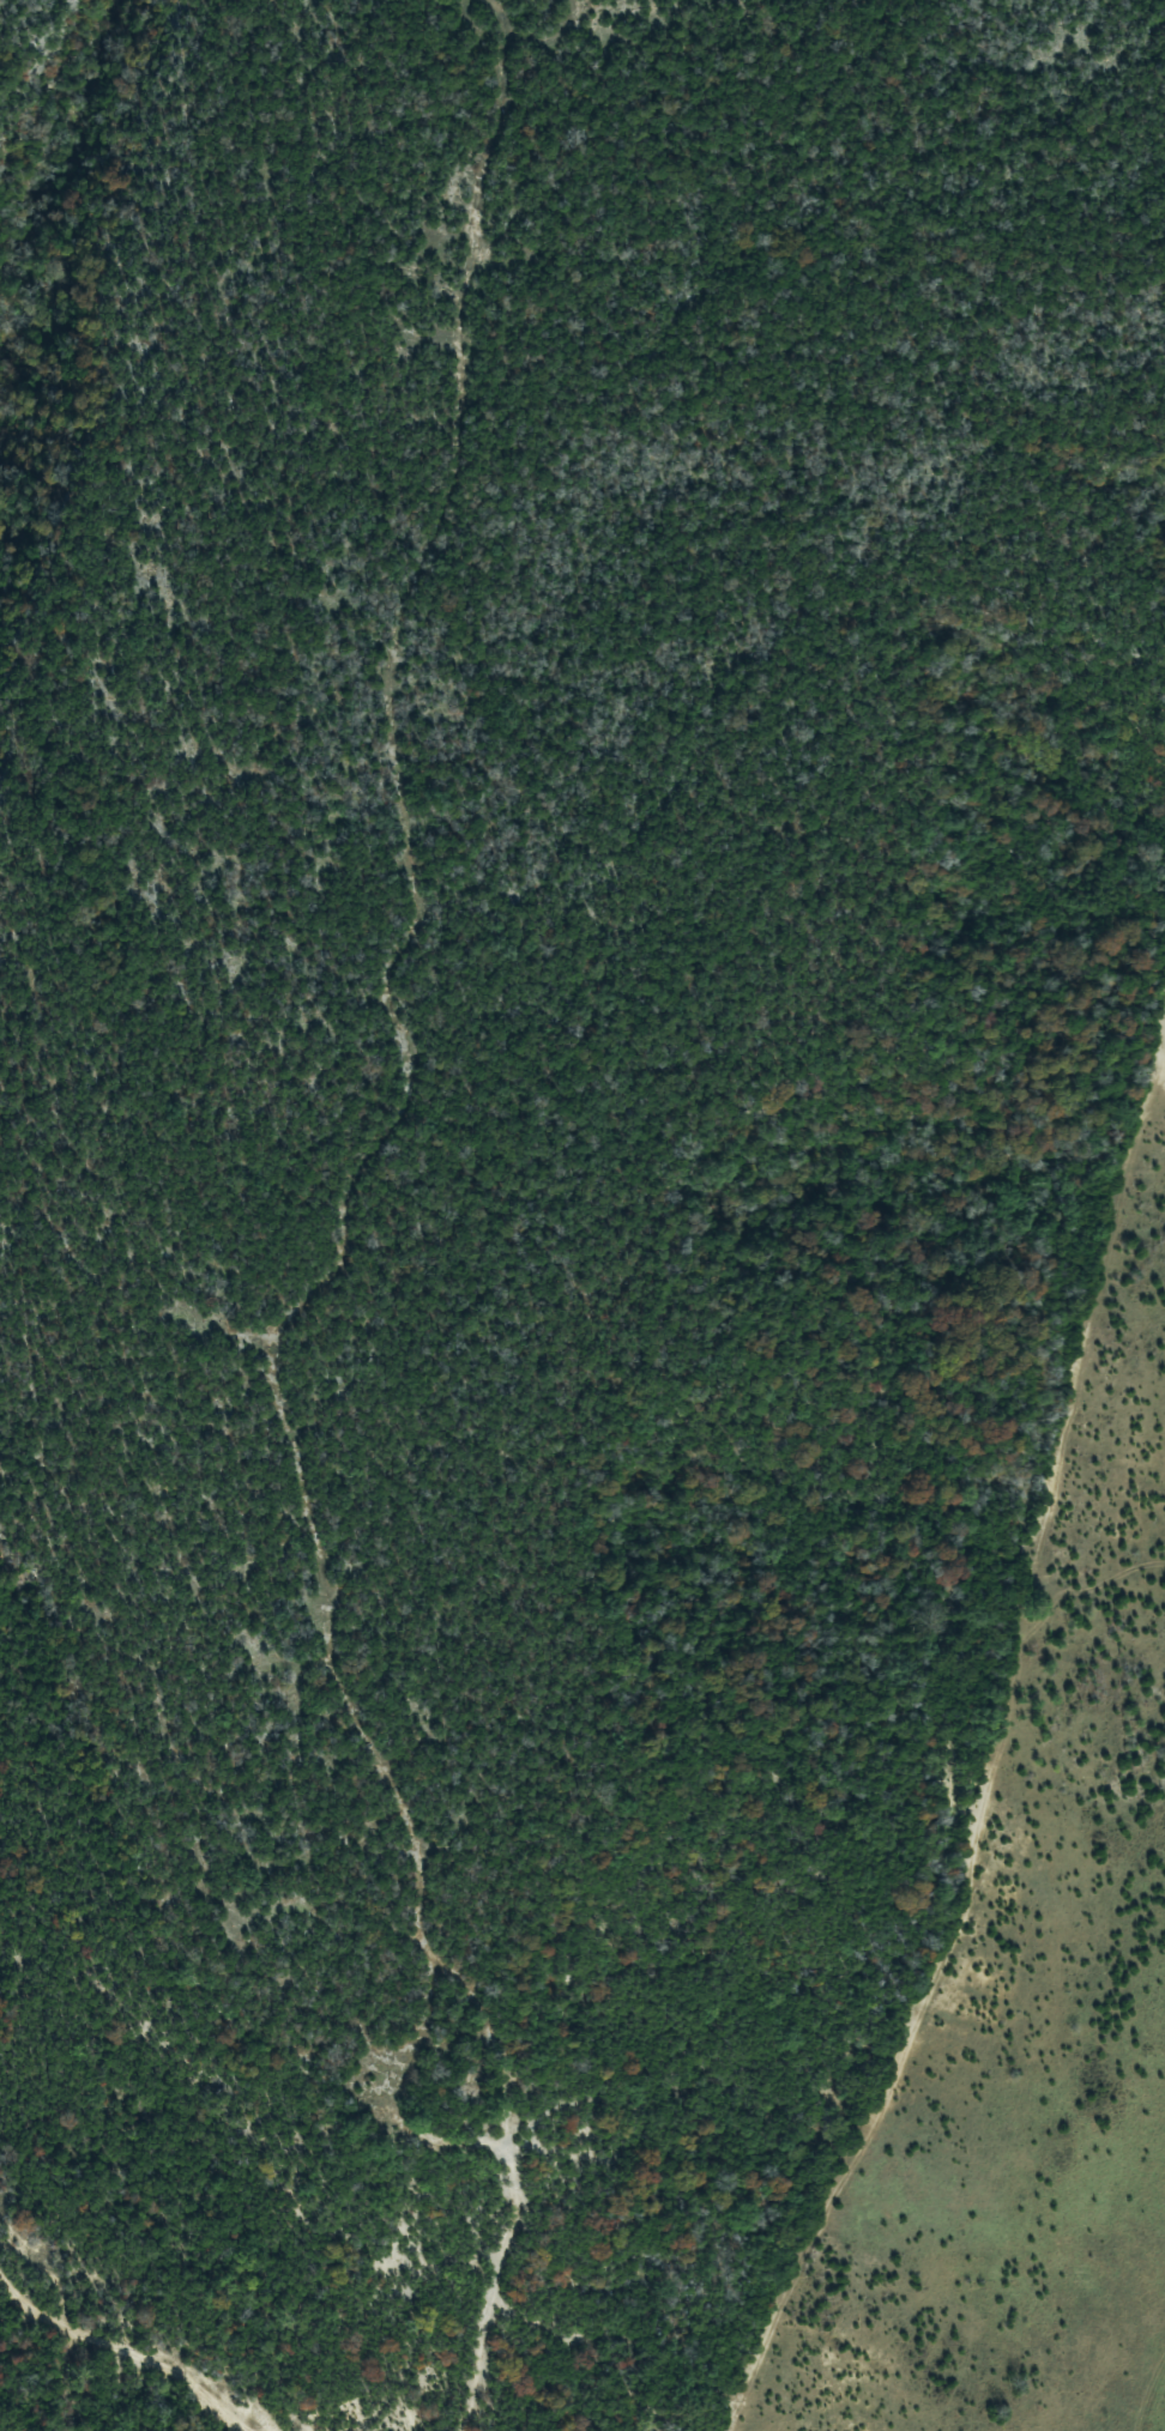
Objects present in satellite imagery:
road: (409, 1106)
road: (501, 2304)

